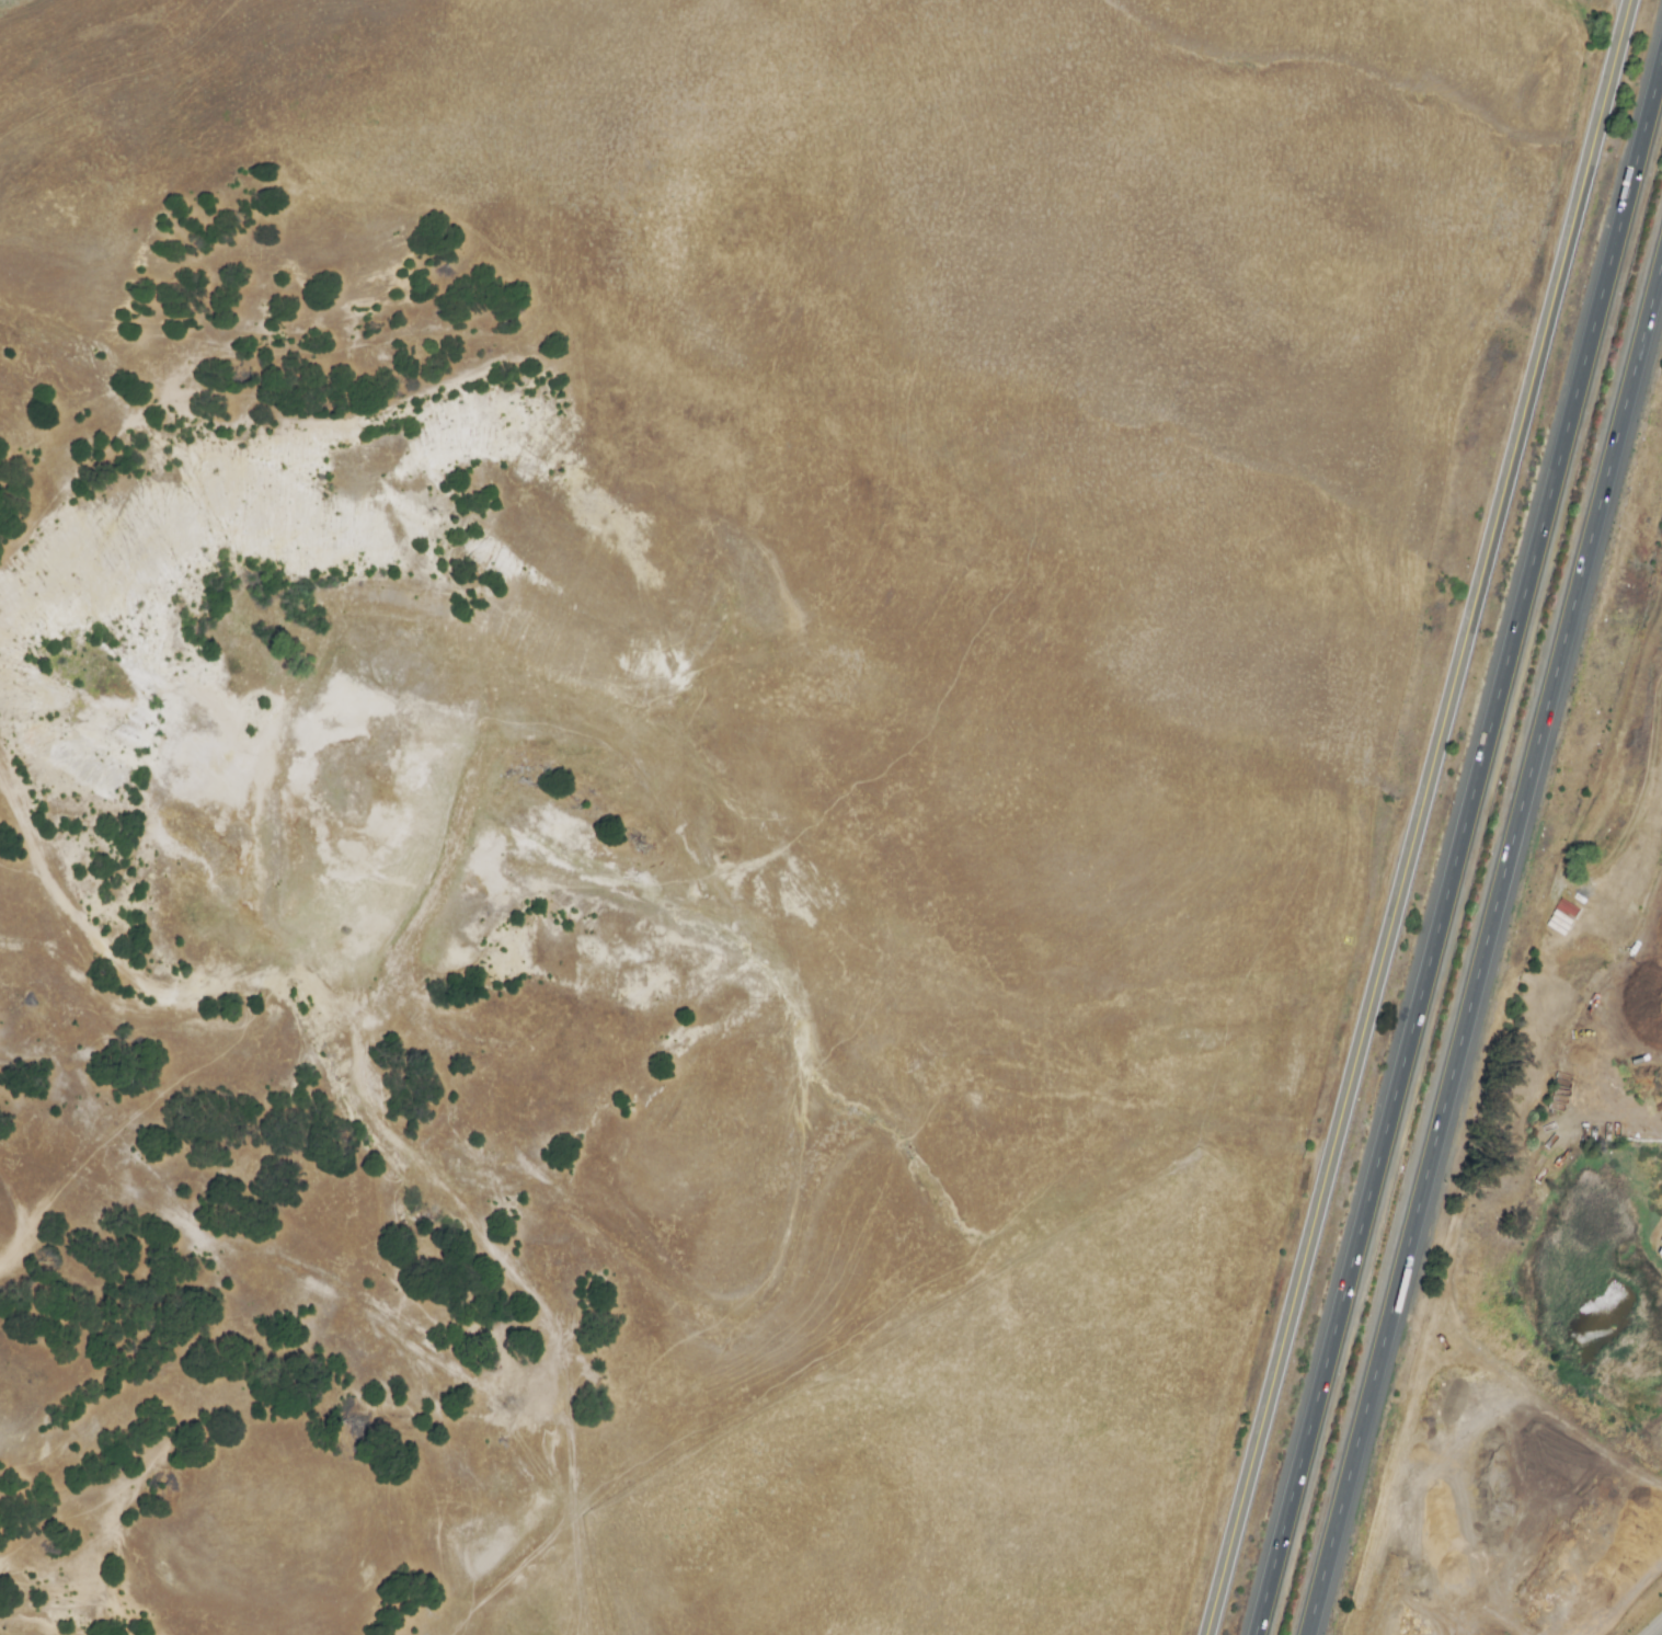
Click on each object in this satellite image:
road: (1421, 817)
road: (1458, 845)
road: (1483, 945)
road: (1657, 1630)

